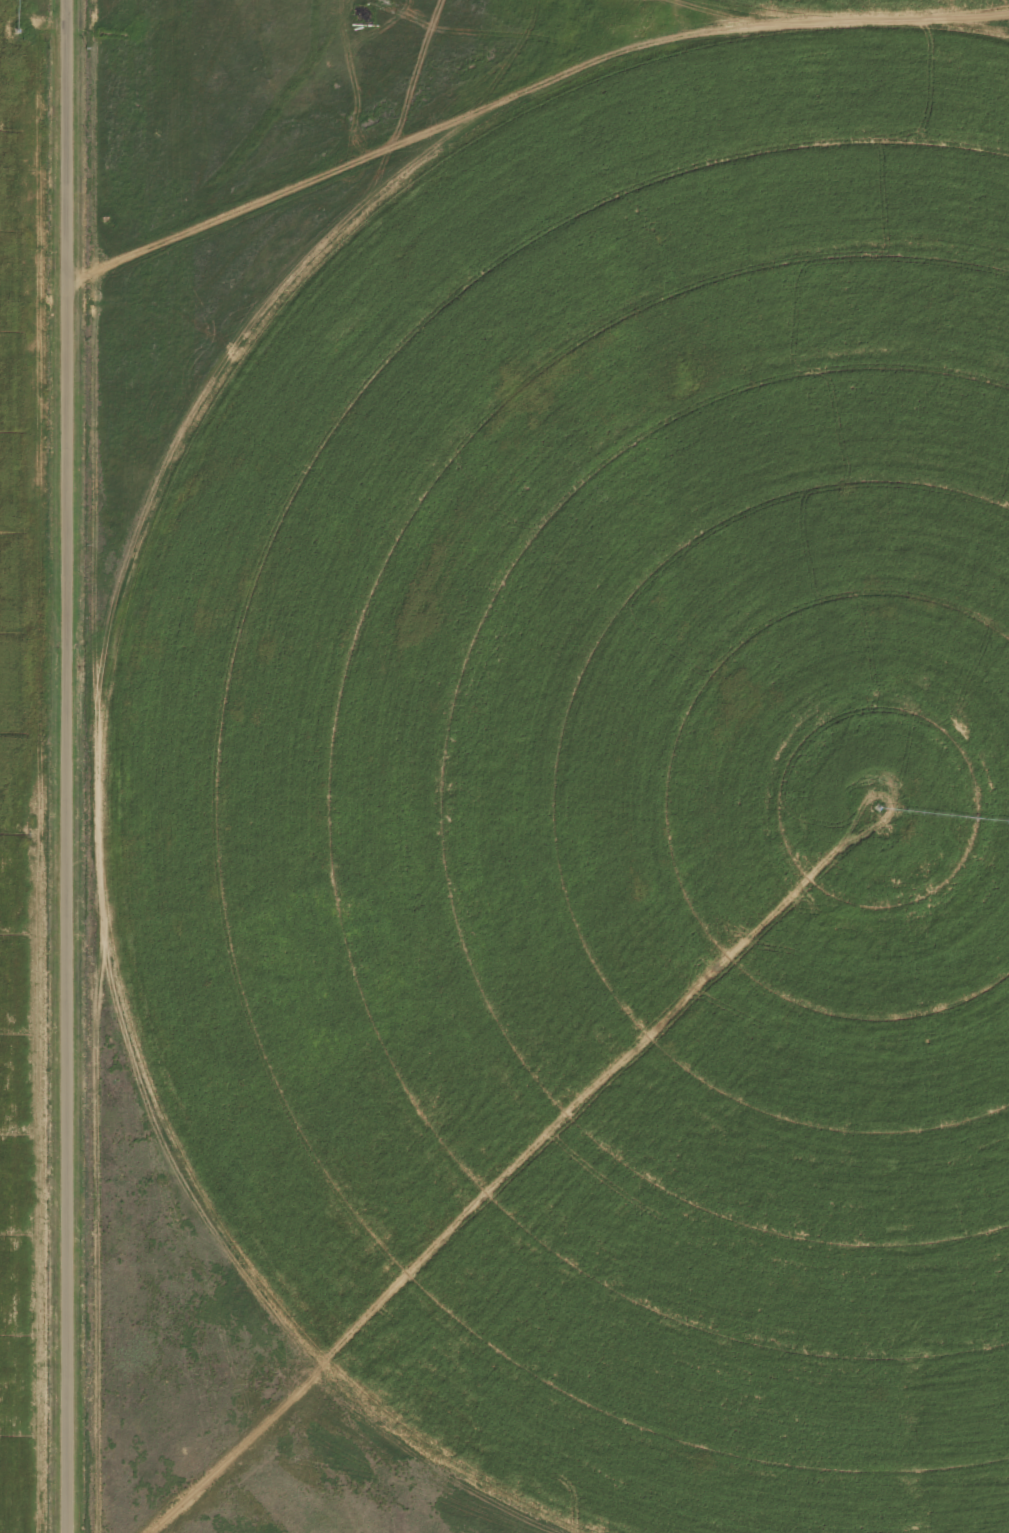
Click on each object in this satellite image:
road: (68, 766)

